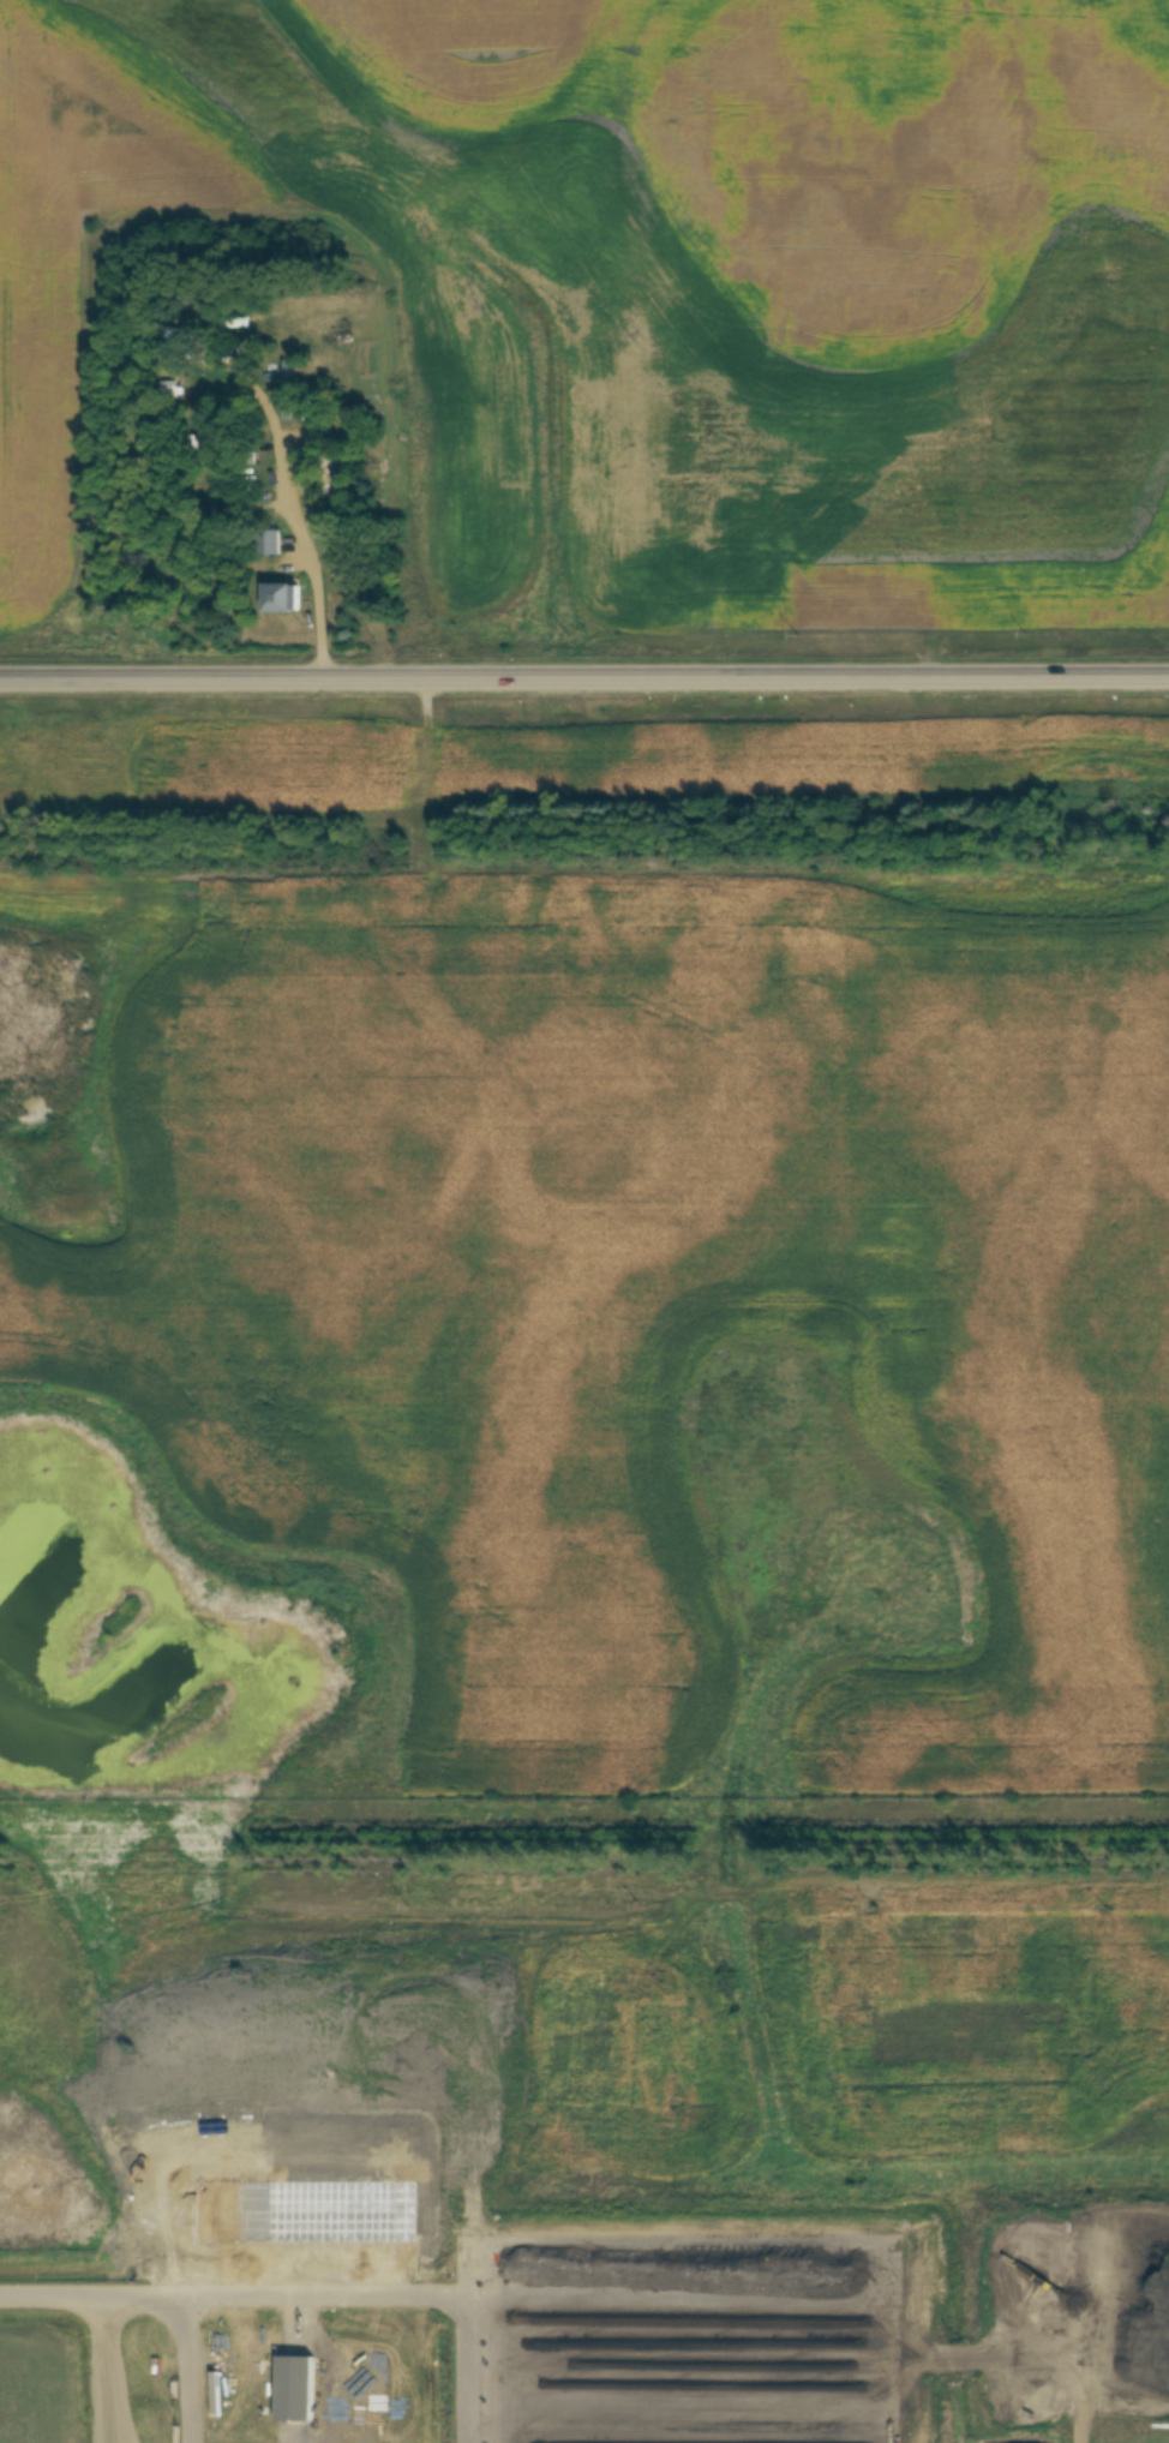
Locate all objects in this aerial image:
building: (310, 409)
building: (326, 484)
road: (308, 543)
building: (276, 599)
road: (583, 682)
road: (238, 2299)
road: (475, 2353)
road: (101, 2371)
road: (192, 2371)
building: (298, 2393)

